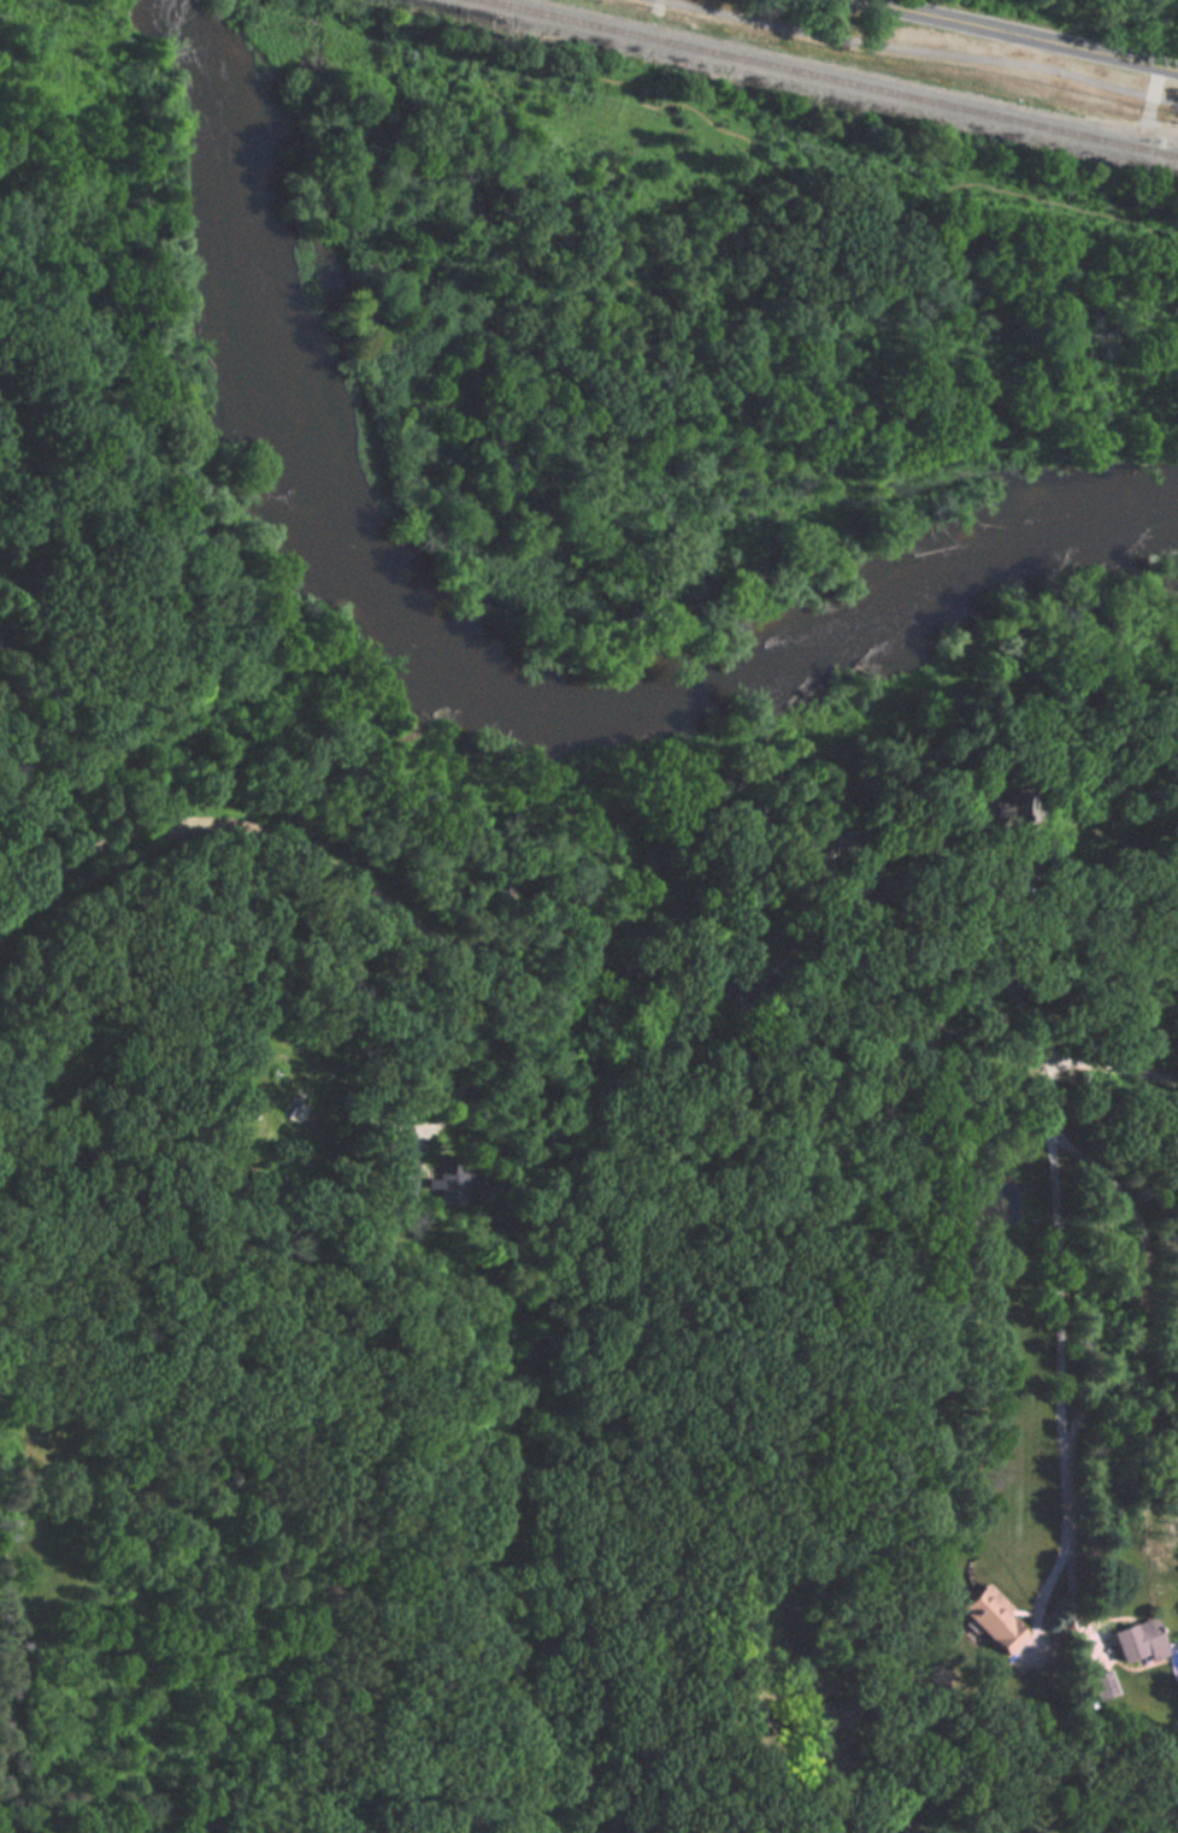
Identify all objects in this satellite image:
road: (1019, 37)
road: (925, 49)
railway: (825, 78)
road: (1147, 114)
road: (435, 158)
road: (999, 190)
river: (467, 690)
road: (238, 825)
building: (850, 855)
building: (501, 879)
road: (966, 908)
building: (737, 985)
road: (871, 1004)
road: (489, 1037)
road: (1119, 1068)
building: (298, 1106)
building: (455, 1169)
road: (1145, 1281)
road: (1056, 1348)
road: (1076, 1580)
building: (991, 1617)
building: (1136, 1639)
road: (865, 1803)

